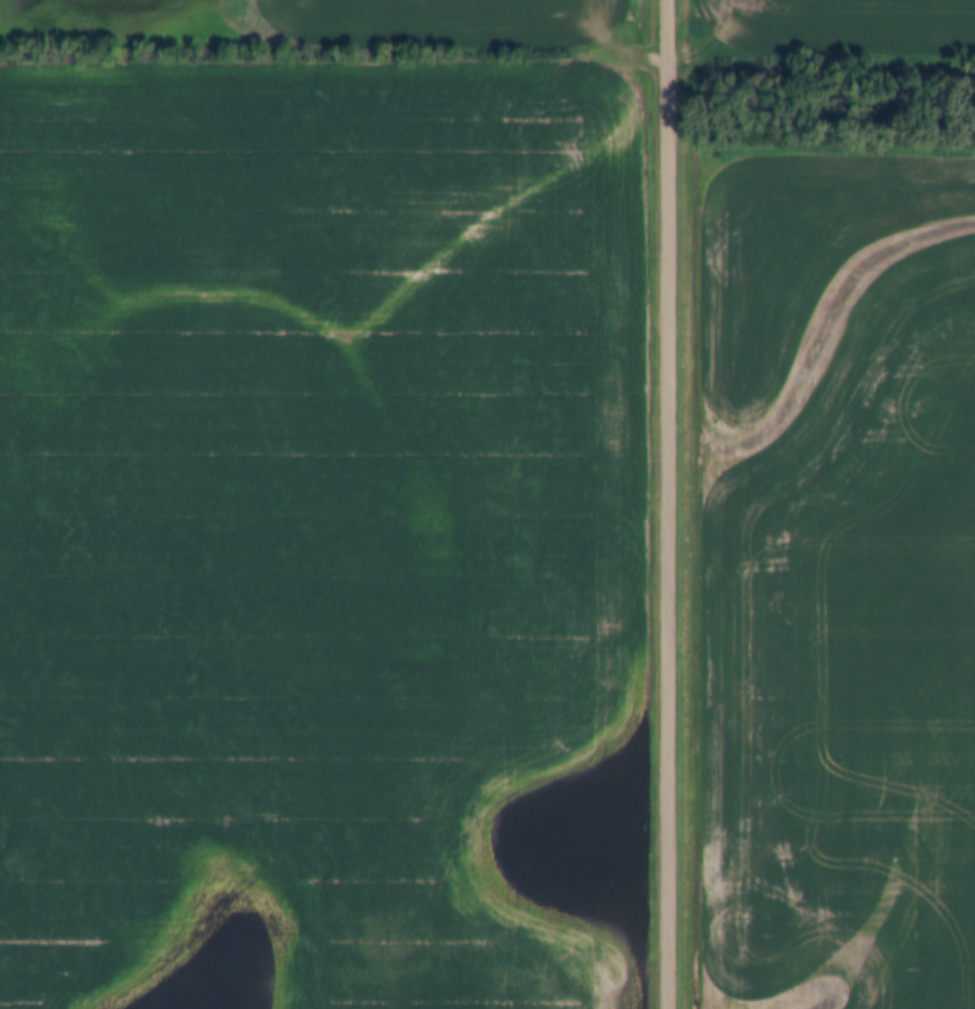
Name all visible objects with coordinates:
road: (669, 504)

